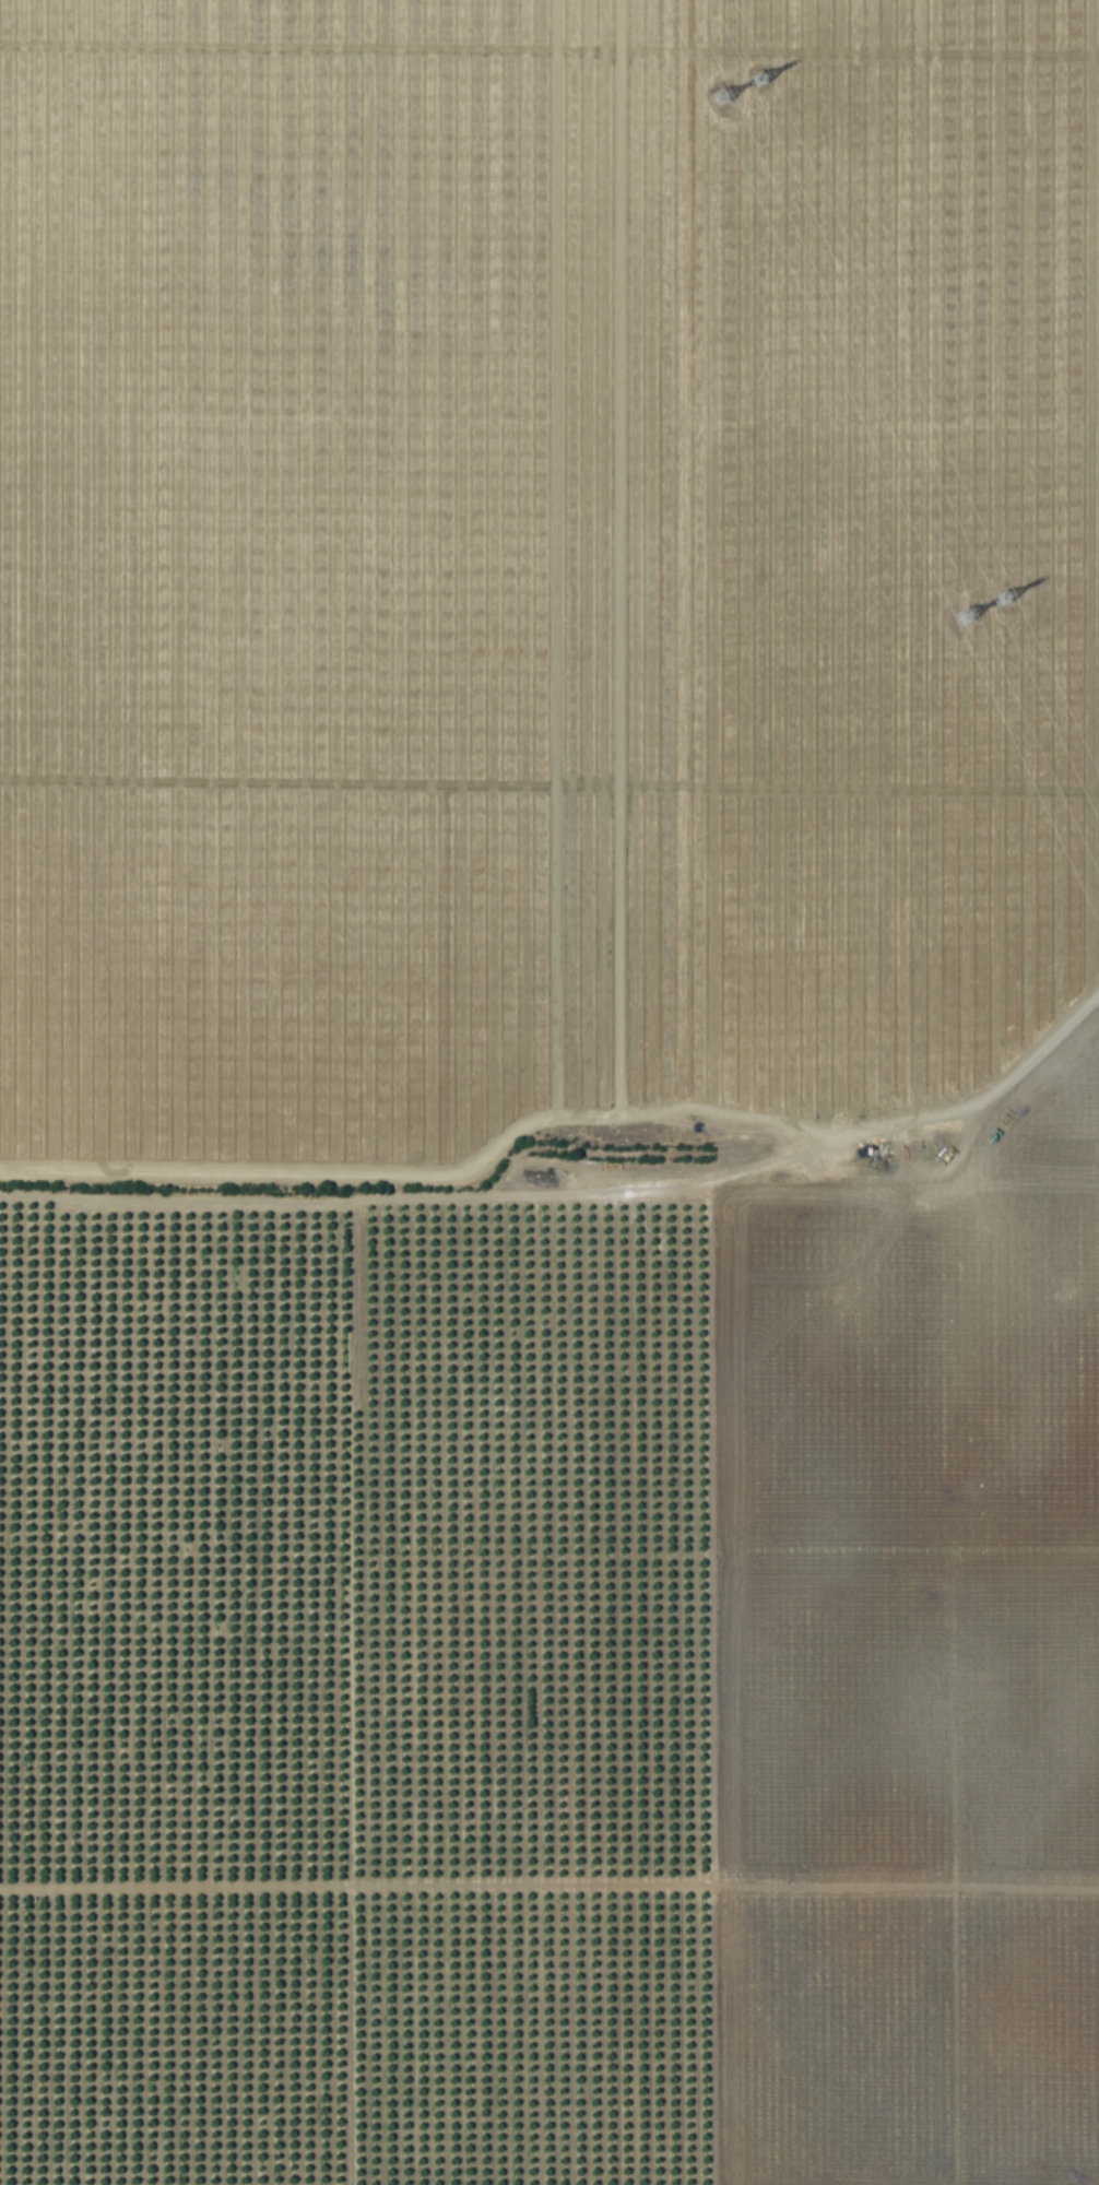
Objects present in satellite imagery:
power tower: (755, 81)
power tower: (716, 96)
power tower: (998, 599)
power tower: (959, 617)
road: (1026, 1061)
road: (900, 1890)

